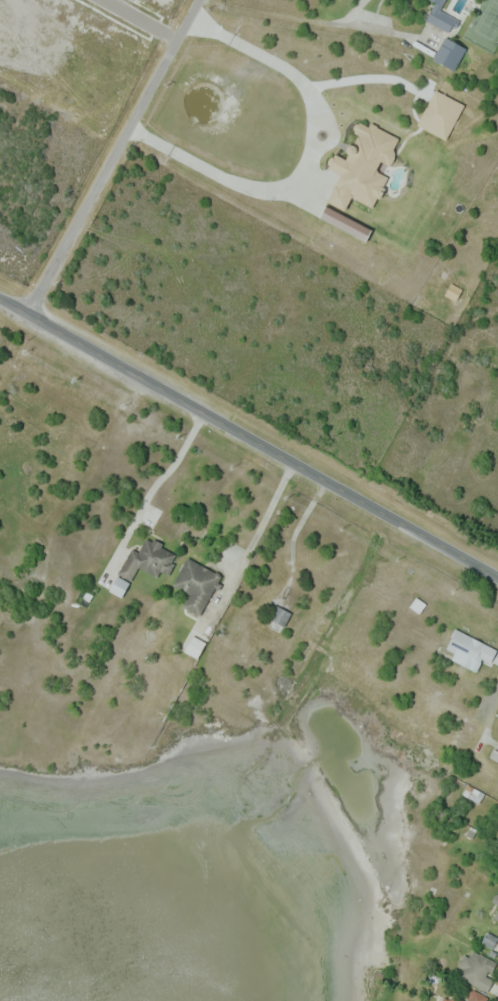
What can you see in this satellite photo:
building: (442, 17)
road: (141, 20)
building: (450, 53)
building: (440, 114)
road: (113, 155)
building: (362, 166)
building: (345, 222)
building: (452, 291)
road: (249, 434)
road: (263, 517)
building: (149, 560)
building: (119, 586)
building: (198, 586)
building: (281, 616)
building: (241, 630)
building: (194, 646)
building: (469, 650)
road: (490, 711)
building: (495, 754)
building: (474, 794)
building: (497, 916)
building: (489, 940)
building: (478, 969)
building: (467, 996)

